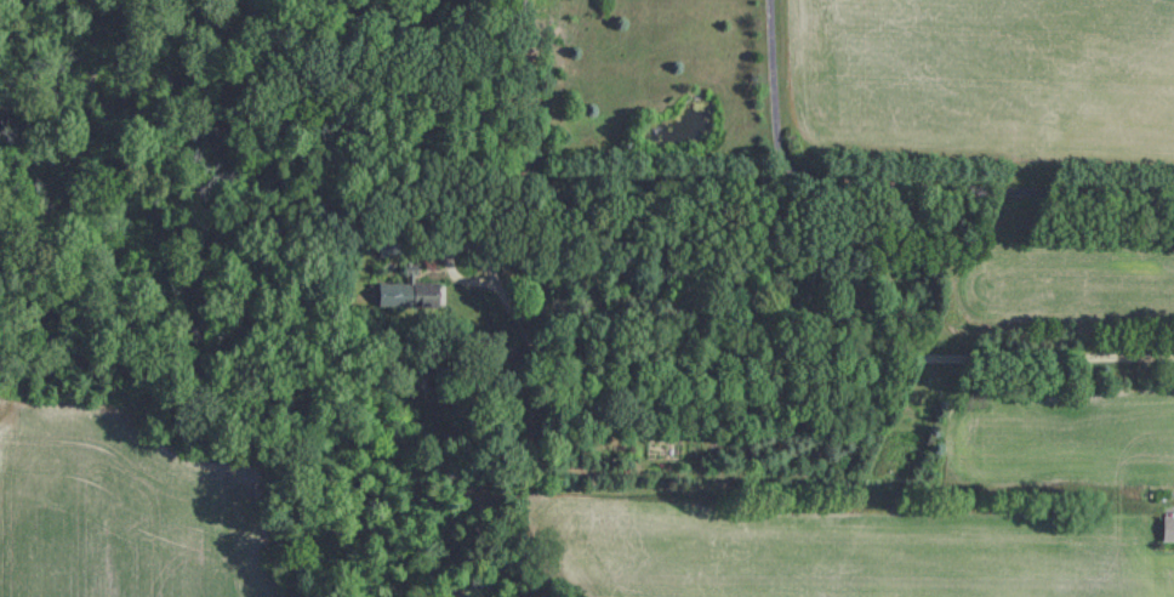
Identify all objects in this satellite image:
road: (895, 186)
road: (796, 362)
building: (1168, 529)

